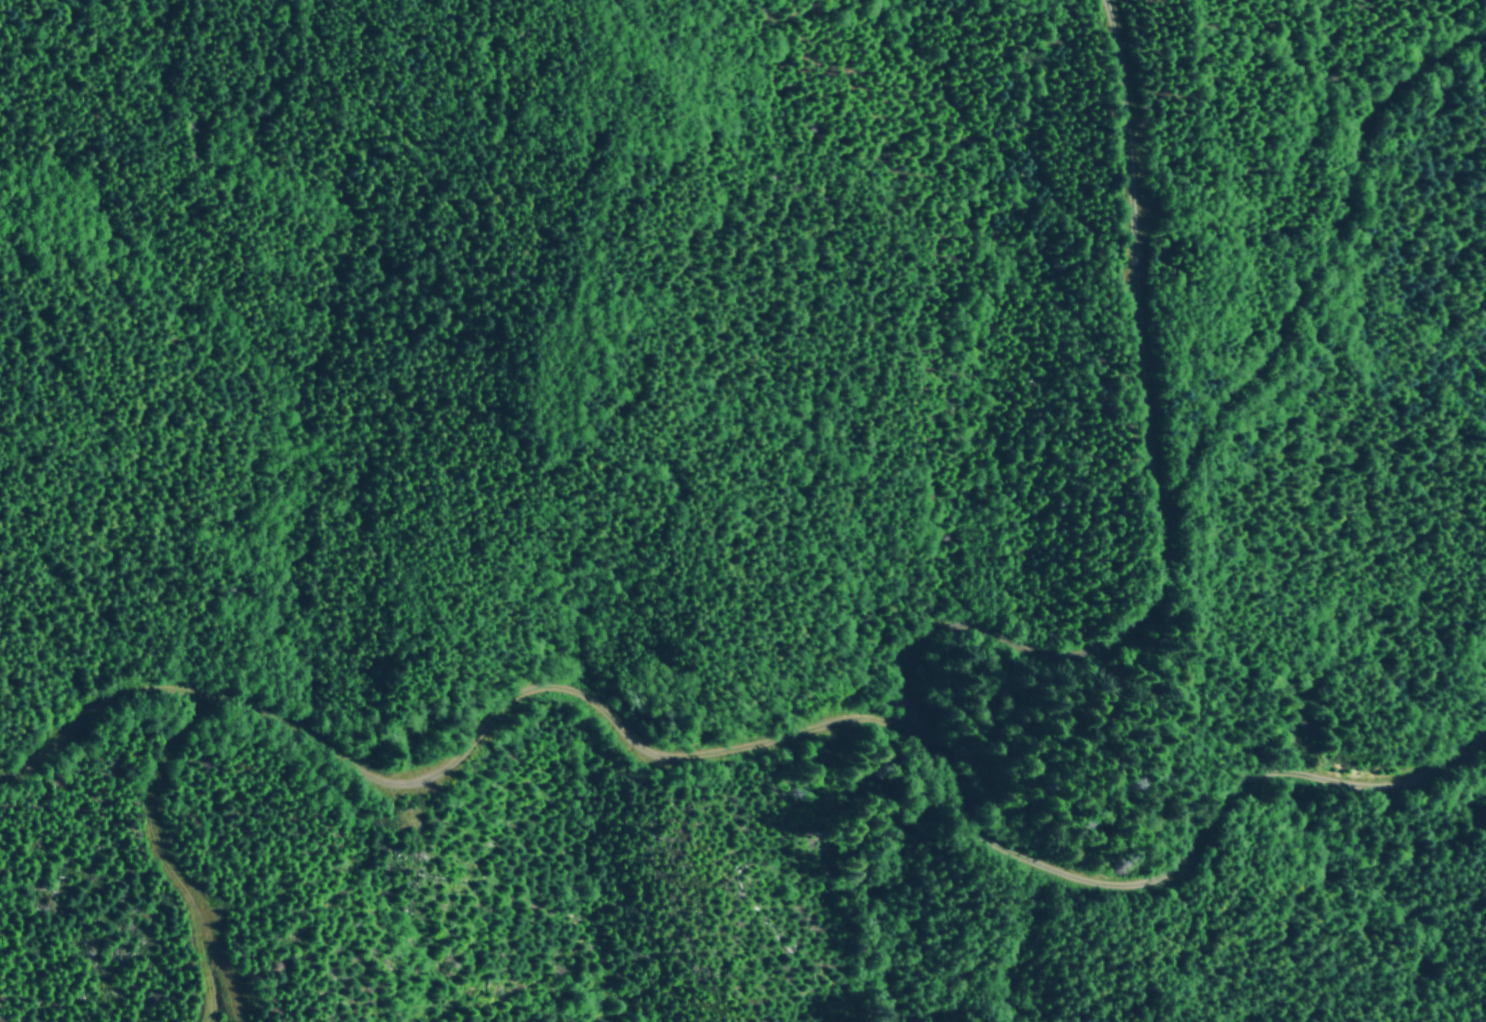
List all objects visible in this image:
road: (1139, 259)
road: (1311, 263)
road: (1035, 662)
road: (538, 687)
road: (90, 711)
road: (1170, 852)
road: (168, 854)

